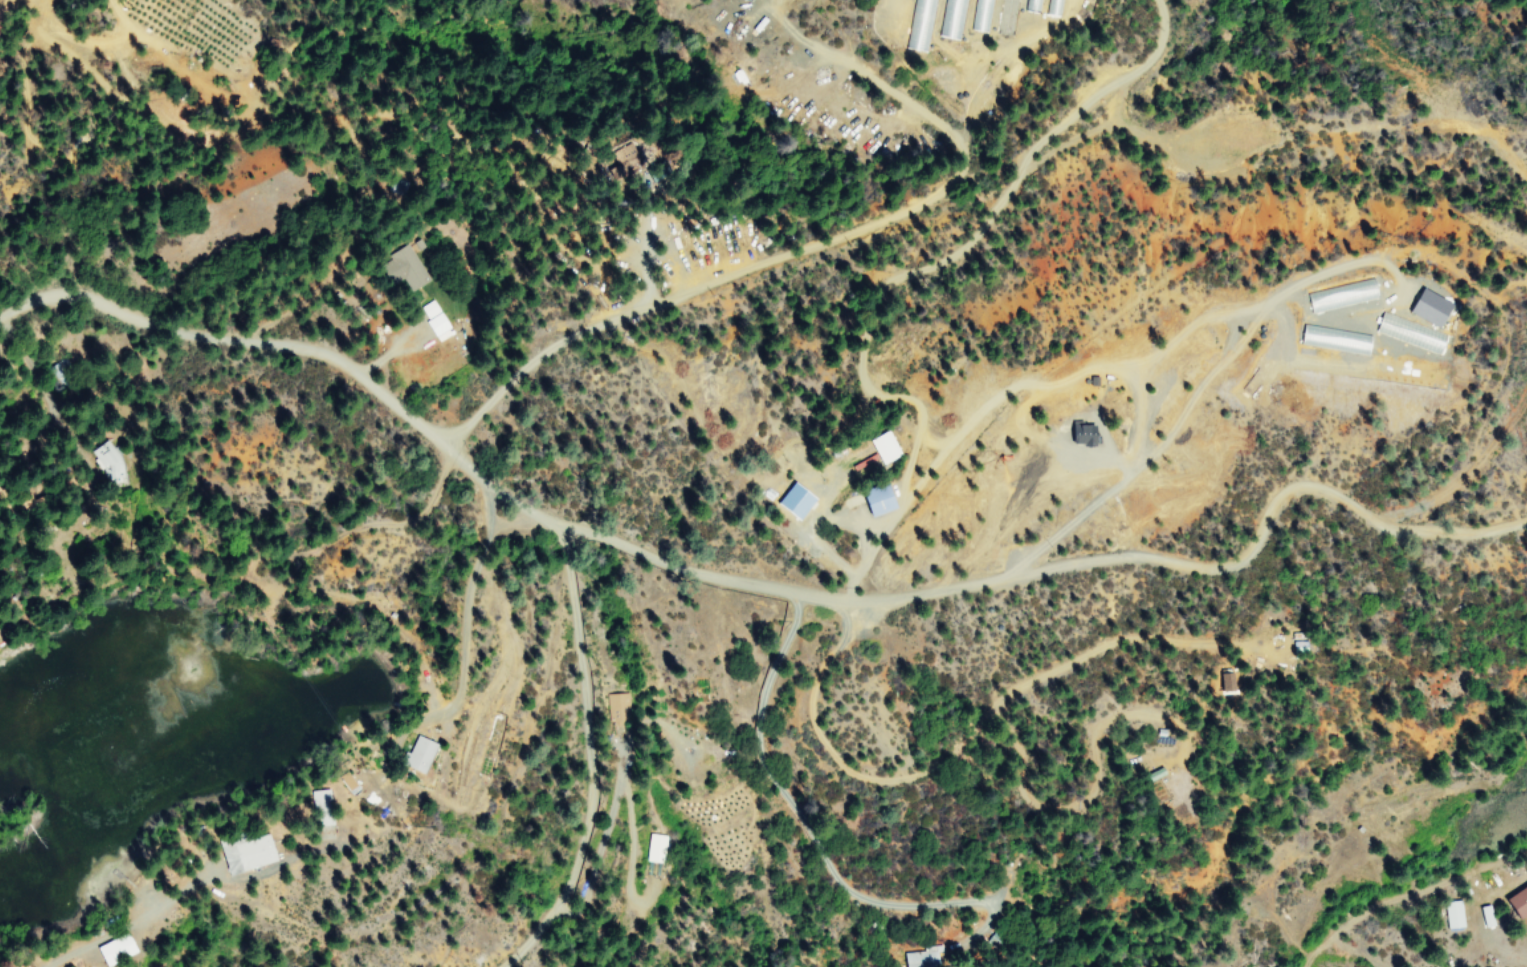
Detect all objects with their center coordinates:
building: (980, 15)
building: (1007, 17)
building: (950, 19)
building: (919, 25)
building: (401, 268)
building: (1339, 295)
building: (1426, 307)
building: (431, 317)
building: (1408, 332)
building: (1333, 339)
building: (1078, 434)
building: (882, 447)
building: (105, 461)
building: (873, 501)
road: (753, 584)
building: (1223, 681)
road: (762, 703)
building: (616, 706)
building: (416, 754)
road: (570, 757)
building: (346, 781)
building: (320, 807)
building: (655, 848)
building: (245, 852)
building: (1516, 900)
building: (1451, 914)
building: (112, 948)
building: (923, 957)

